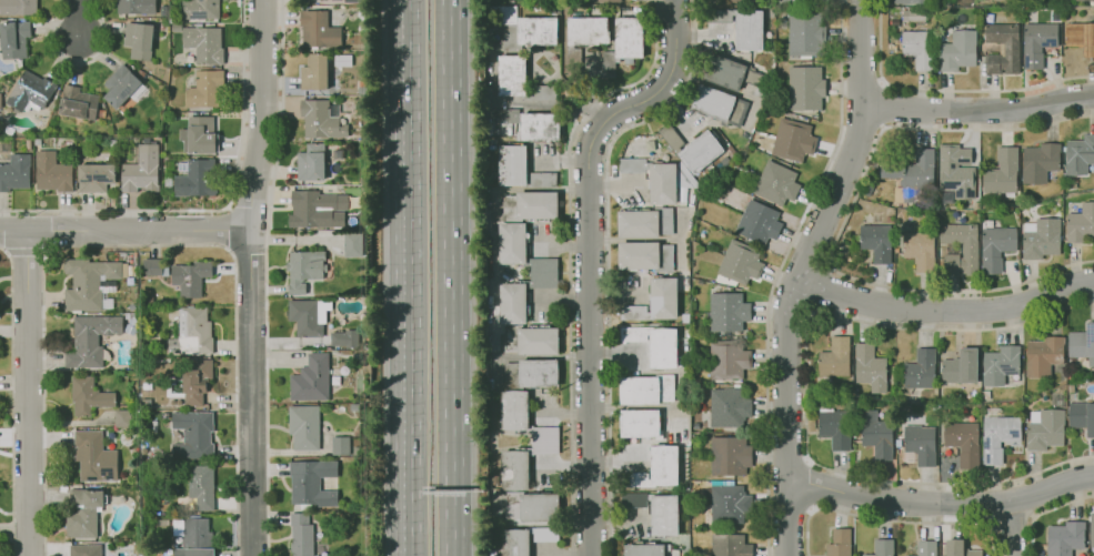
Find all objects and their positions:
building: (1082, 0)
building: (609, 1)
building: (741, 1)
building: (795, 1)
road: (655, 2)
building: (915, 2)
road: (675, 6)
building: (17, 7)
building: (133, 7)
road: (860, 7)
building: (199, 9)
building: (914, 17)
road: (78, 20)
building: (315, 29)
building: (747, 29)
building: (535, 30)
building: (586, 30)
building: (804, 34)
building: (628, 37)
building: (1081, 37)
building: (13, 39)
building: (138, 40)
building: (203, 43)
building: (1038, 43)
building: (920, 49)
building: (1003, 49)
building: (958, 51)
building: (606, 63)
building: (722, 71)
road: (880, 71)
building: (313, 72)
building: (511, 74)
building: (120, 85)
building: (804, 87)
building: (204, 89)
building: (29, 90)
road: (1016, 90)
building: (77, 102)
building: (712, 102)
road: (880, 104)
road: (980, 111)
building: (320, 120)
building: (538, 125)
road: (909, 127)
road: (1015, 129)
building: (200, 133)
building: (792, 140)
building: (700, 151)
building: (1080, 155)
building: (312, 162)
building: (1040, 162)
building: (629, 164)
building: (141, 169)
building: (519, 169)
building: (14, 172)
building: (51, 172)
building: (1003, 173)
building: (955, 174)
building: (93, 176)
building: (194, 179)
building: (775, 182)
building: (661, 183)
building: (932, 202)
building: (529, 205)
building: (310, 211)
building: (664, 221)
building: (756, 221)
building: (636, 223)
building: (1080, 224)
road: (123, 232)
building: (1041, 239)
building: (875, 241)
building: (352, 244)
building: (996, 247)
building: (919, 249)
building: (952, 252)
road: (590, 255)
building: (643, 255)
road: (606, 256)
road: (569, 260)
building: (739, 262)
building: (151, 266)
building: (302, 269)
building: (543, 272)
road: (777, 272)
road: (801, 273)
building: (189, 276)
road: (248, 277)
road: (412, 277)
road: (448, 277)
building: (87, 282)
road: (961, 289)
road: (819, 290)
building: (662, 297)
road: (946, 310)
building: (630, 312)
building: (726, 312)
building: (305, 316)
road: (953, 330)
building: (191, 331)
building: (628, 333)
building: (89, 338)
building: (340, 338)
building: (536, 340)
building: (1082, 344)
building: (662, 347)
building: (1044, 355)
building: (833, 356)
building: (726, 360)
building: (1000, 365)
building: (869, 367)
building: (961, 367)
building: (920, 368)
building: (536, 372)
building: (1071, 376)
building: (194, 380)
building: (310, 380)
building: (644, 388)
building: (1071, 388)
road: (27, 395)
building: (88, 395)
building: (727, 408)
building: (1082, 417)
building: (1025, 418)
building: (639, 423)
building: (302, 426)
building: (834, 428)
building: (1045, 429)
building: (192, 434)
building: (875, 435)
building: (998, 435)
building: (544, 441)
building: (920, 443)
building: (964, 443)
building: (339, 445)
building: (729, 455)
building: (93, 456)
building: (663, 464)
road: (952, 479)
building: (310, 482)
road: (810, 485)
building: (200, 486)
building: (630, 499)
building: (726, 503)
road: (941, 505)
building: (530, 506)
building: (82, 513)
road: (1045, 513)
building: (663, 514)
road: (1013, 518)
road: (896, 520)
road: (1011, 528)
building: (192, 530)
building: (1092, 530)
building: (300, 534)
building: (1065, 538)
building: (524, 539)
building: (837, 543)
building: (729, 545)
building: (881, 547)
building: (924, 548)
building: (960, 548)
building: (84, 549)
building: (642, 549)
building: (192, 552)

